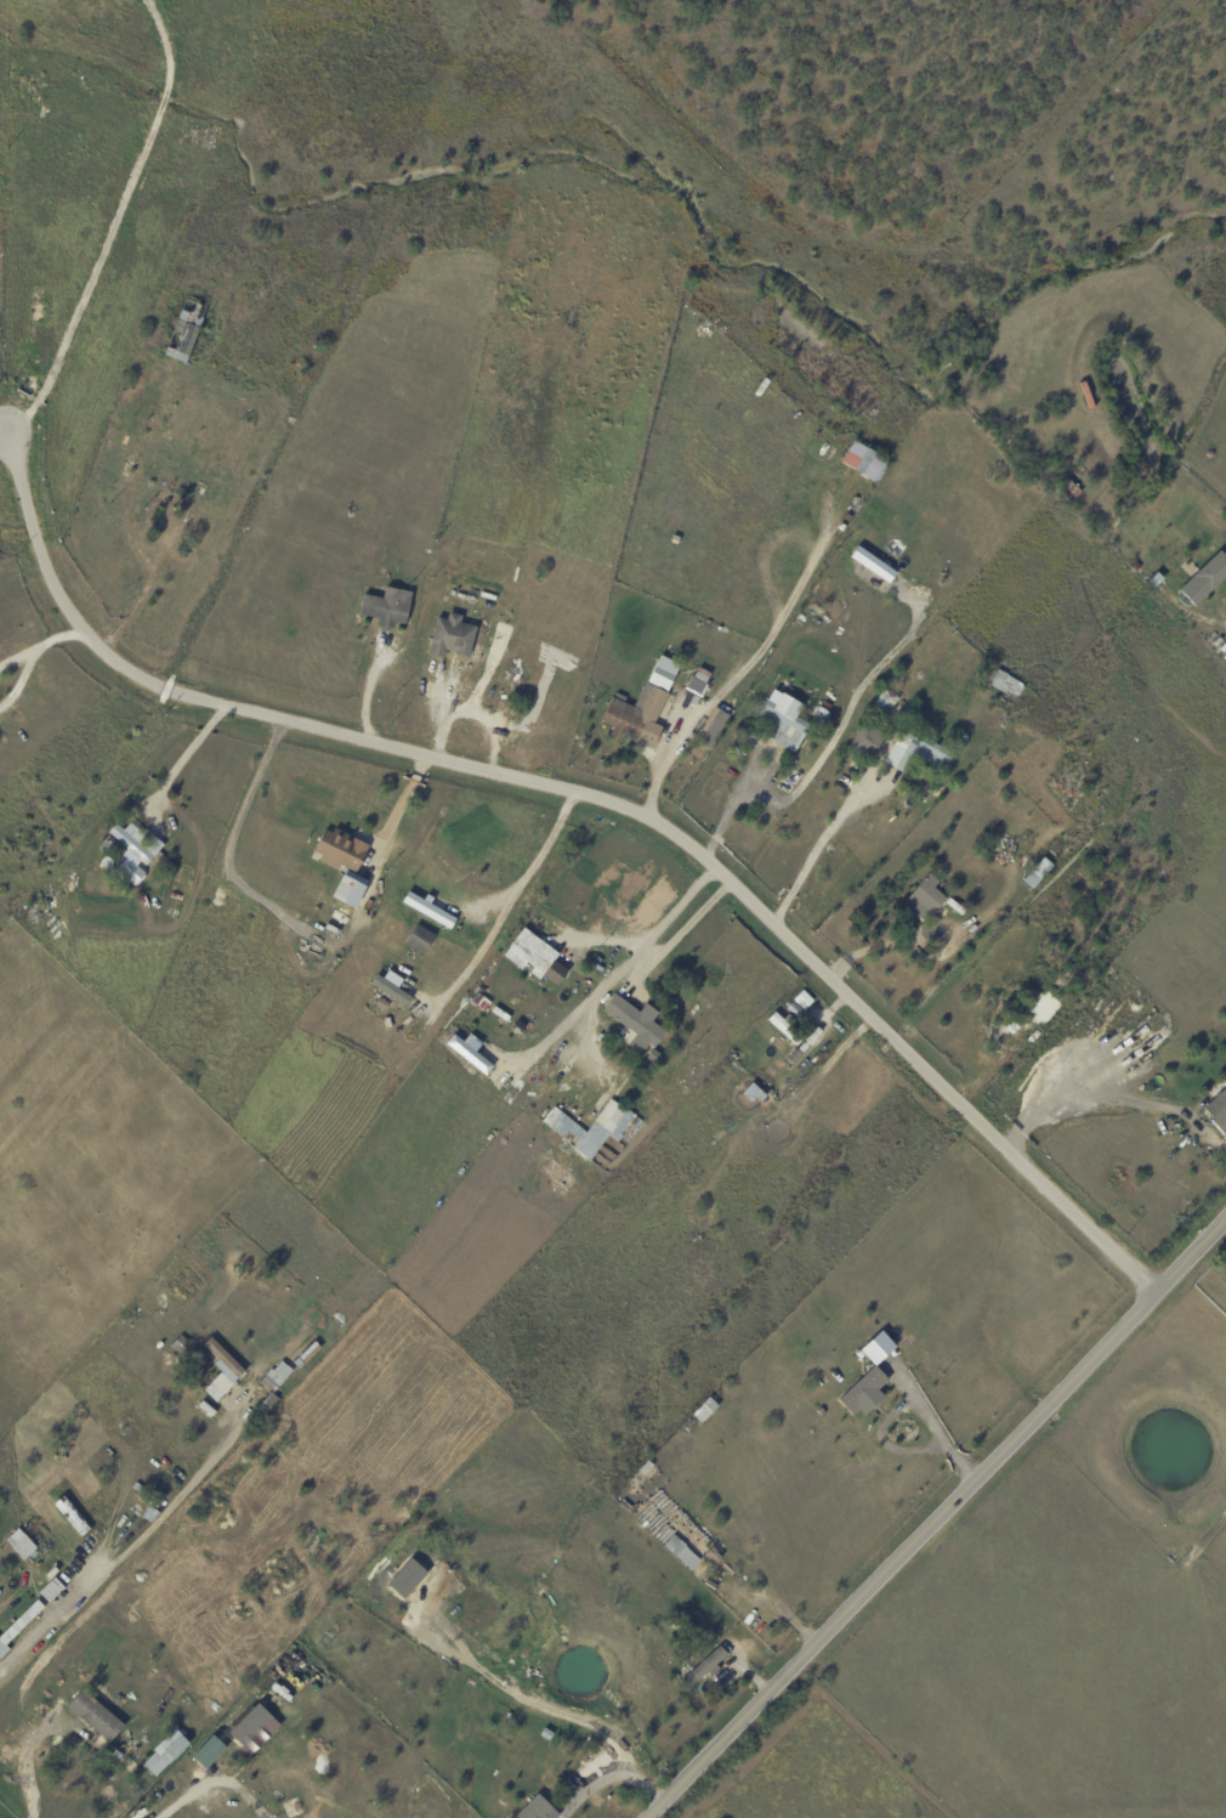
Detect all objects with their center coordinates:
road: (115, 226)
building: (185, 330)
road: (1, 430)
building: (168, 460)
building: (865, 461)
building: (1080, 475)
building: (1068, 491)
building: (192, 500)
building: (675, 539)
building: (870, 563)
building: (1135, 566)
building: (1205, 579)
building: (810, 600)
building: (387, 606)
building: (801, 617)
building: (450, 636)
road: (58, 638)
road: (17, 657)
road: (753, 662)
building: (662, 673)
building: (696, 674)
road: (22, 679)
building: (1003, 680)
road: (368, 689)
building: (885, 702)
building: (637, 713)
building: (904, 715)
building: (782, 723)
building: (710, 726)
building: (813, 729)
building: (1103, 735)
building: (747, 736)
building: (873, 736)
building: (864, 748)
road: (825, 749)
building: (924, 749)
road: (185, 757)
road: (591, 797)
road: (235, 828)
building: (130, 843)
building: (107, 845)
building: (339, 850)
road: (813, 850)
building: (106, 861)
building: (1033, 879)
building: (344, 895)
road: (511, 899)
building: (925, 901)
building: (425, 908)
building: (344, 922)
building: (419, 939)
building: (533, 963)
road: (625, 964)
building: (387, 987)
building: (1079, 992)
building: (479, 999)
building: (804, 1001)
building: (794, 1010)
building: (635, 1024)
building: (785, 1027)
road: (590, 1029)
building: (1015, 1030)
building: (1037, 1031)
building: (467, 1052)
building: (736, 1054)
building: (653, 1057)
building: (751, 1094)
road: (1113, 1098)
building: (1218, 1114)
building: (597, 1134)
building: (331, 1337)
building: (178, 1344)
building: (875, 1348)
building: (310, 1352)
building: (226, 1358)
building: (277, 1377)
building: (862, 1392)
building: (268, 1400)
road: (906, 1404)
building: (702, 1410)
building: (138, 1488)
building: (149, 1514)
road: (938, 1523)
building: (120, 1541)
building: (25, 1545)
building: (51, 1573)
building: (50, 1590)
road: (51, 1616)
building: (18, 1627)
building: (704, 1669)
road: (522, 1695)
building: (95, 1716)
building: (251, 1724)
building: (165, 1751)
building: (205, 1751)
road: (615, 1774)
building: (535, 1809)

